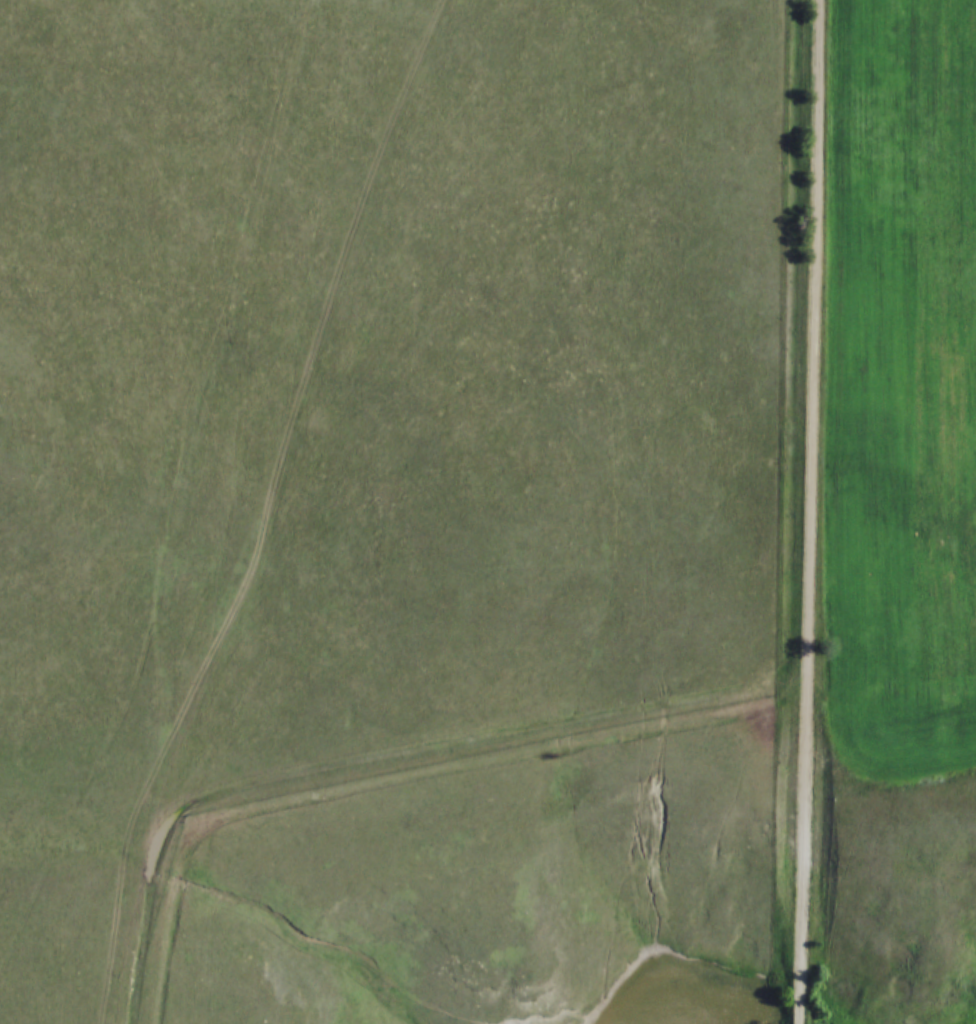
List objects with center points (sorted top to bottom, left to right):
road: (810, 512)

